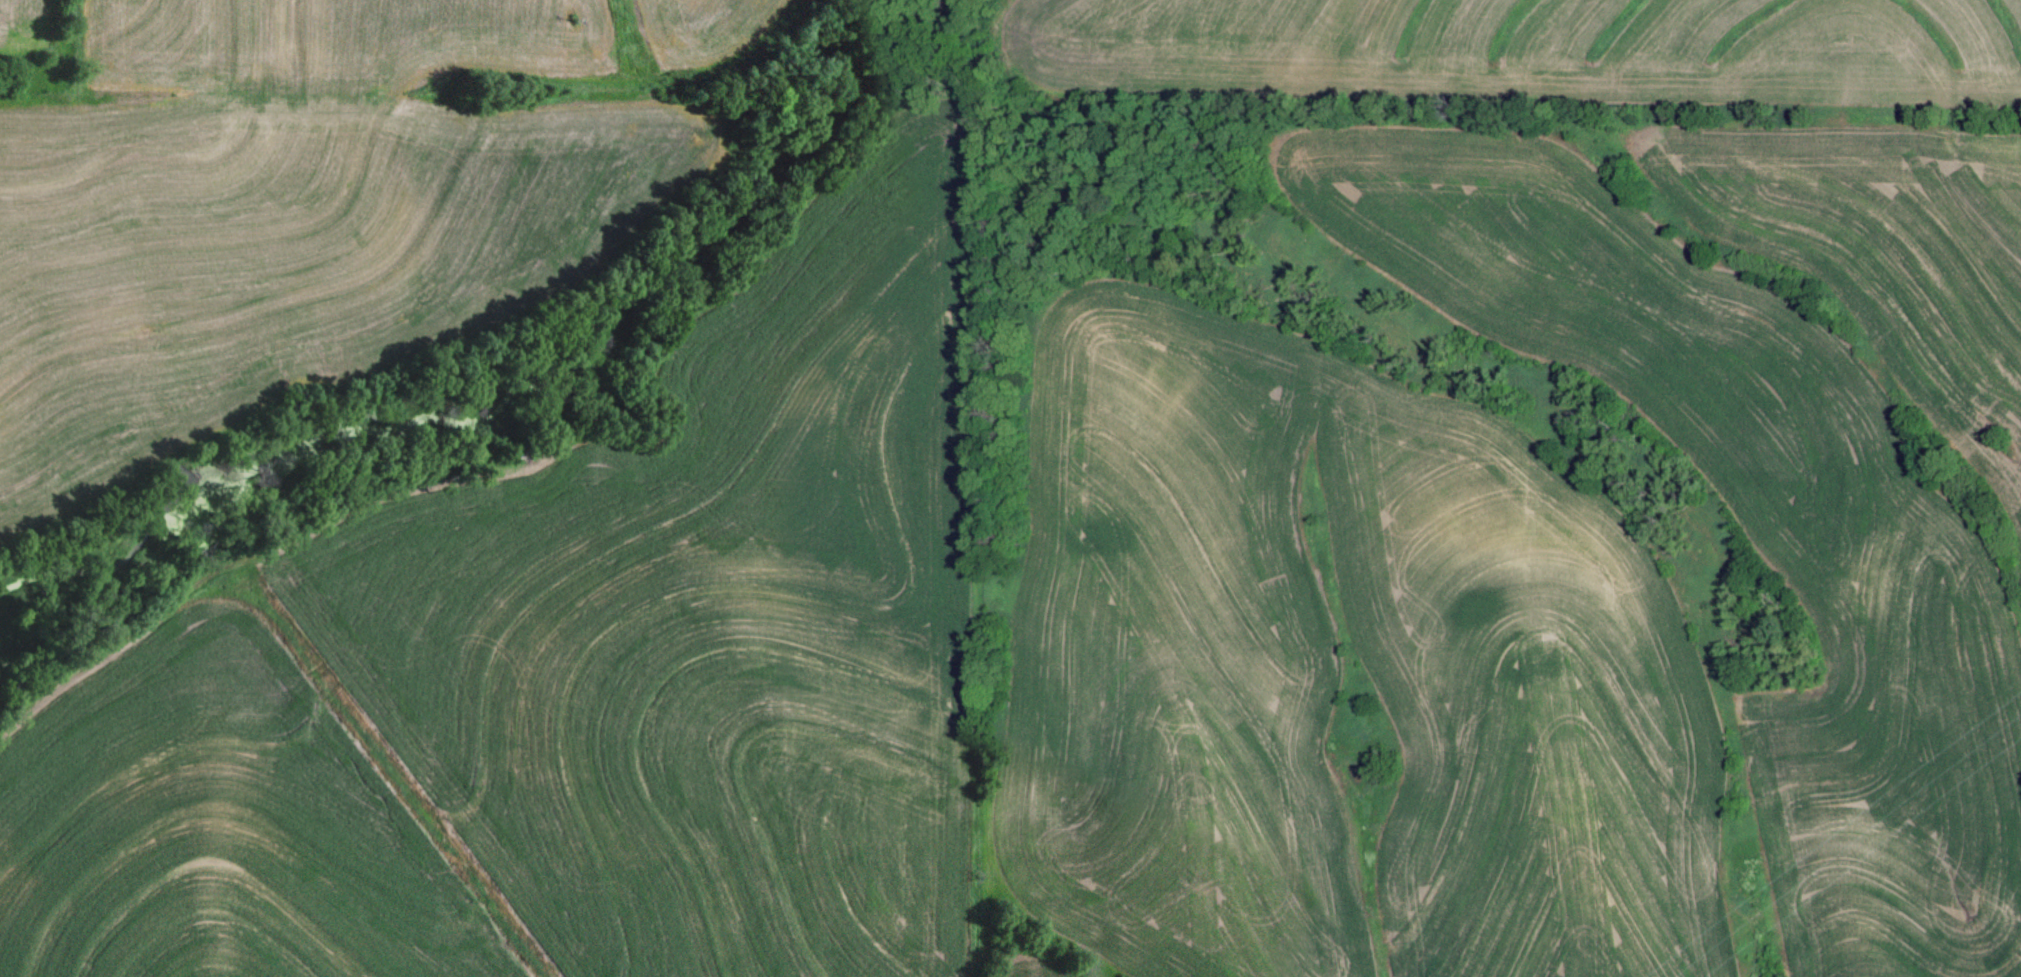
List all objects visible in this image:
building: (71, 445)

